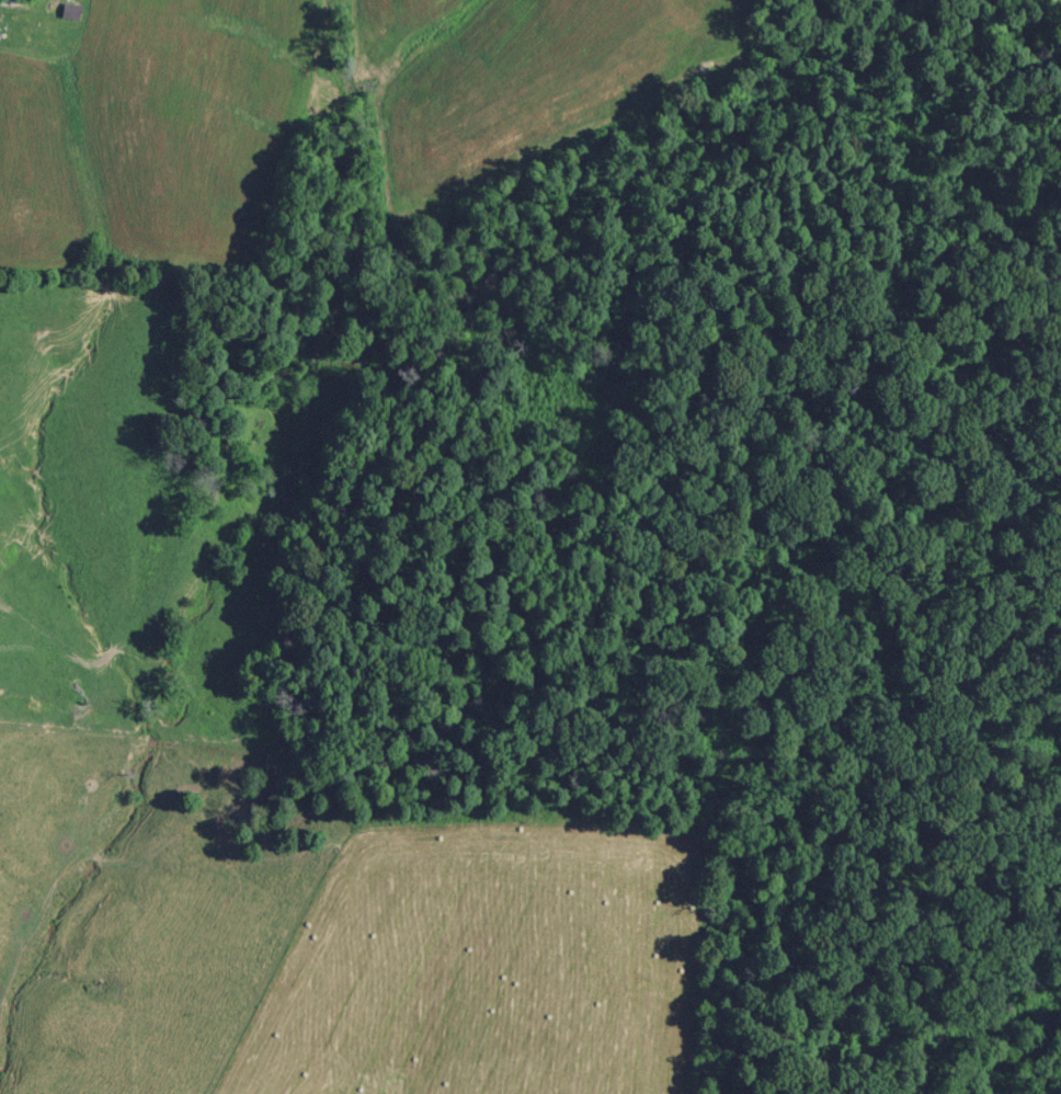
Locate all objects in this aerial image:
building: (65, 8)

